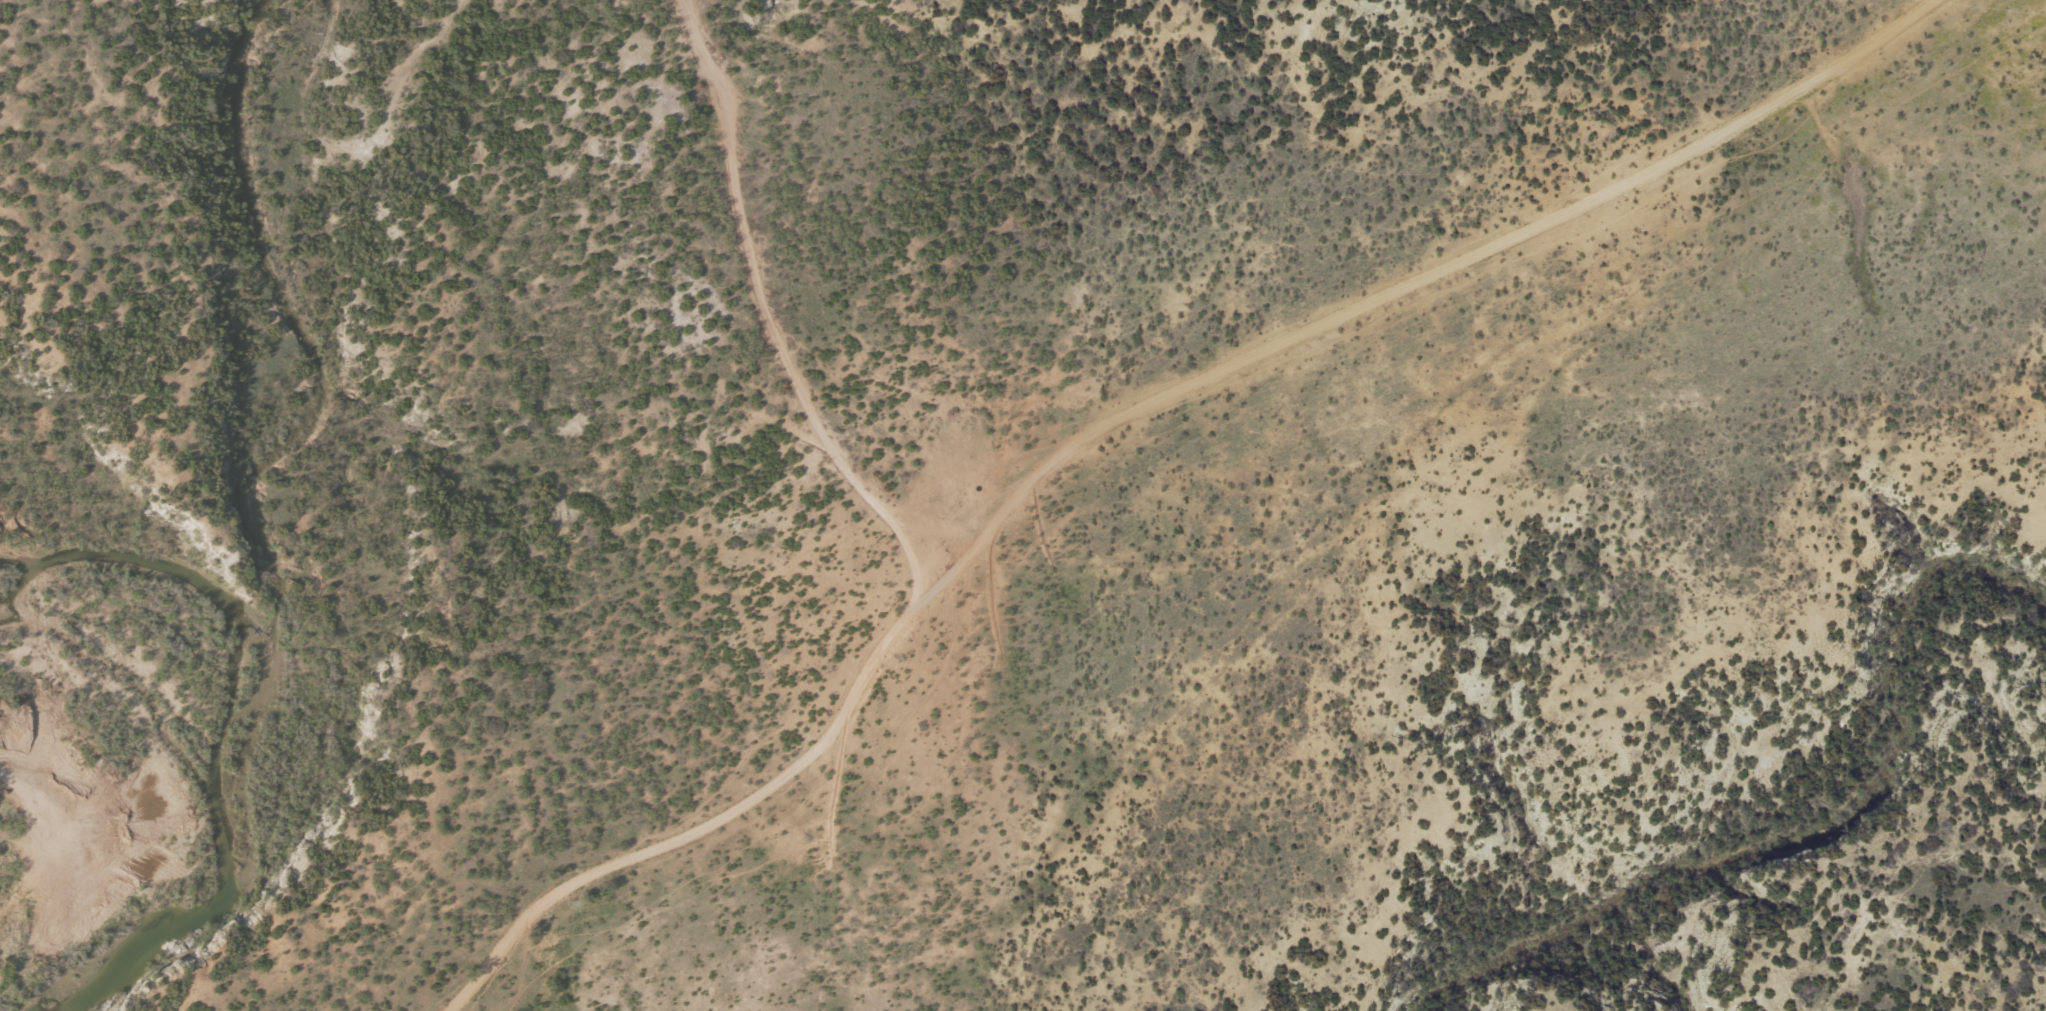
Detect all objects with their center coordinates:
road: (1079, 367)
river: (226, 792)

